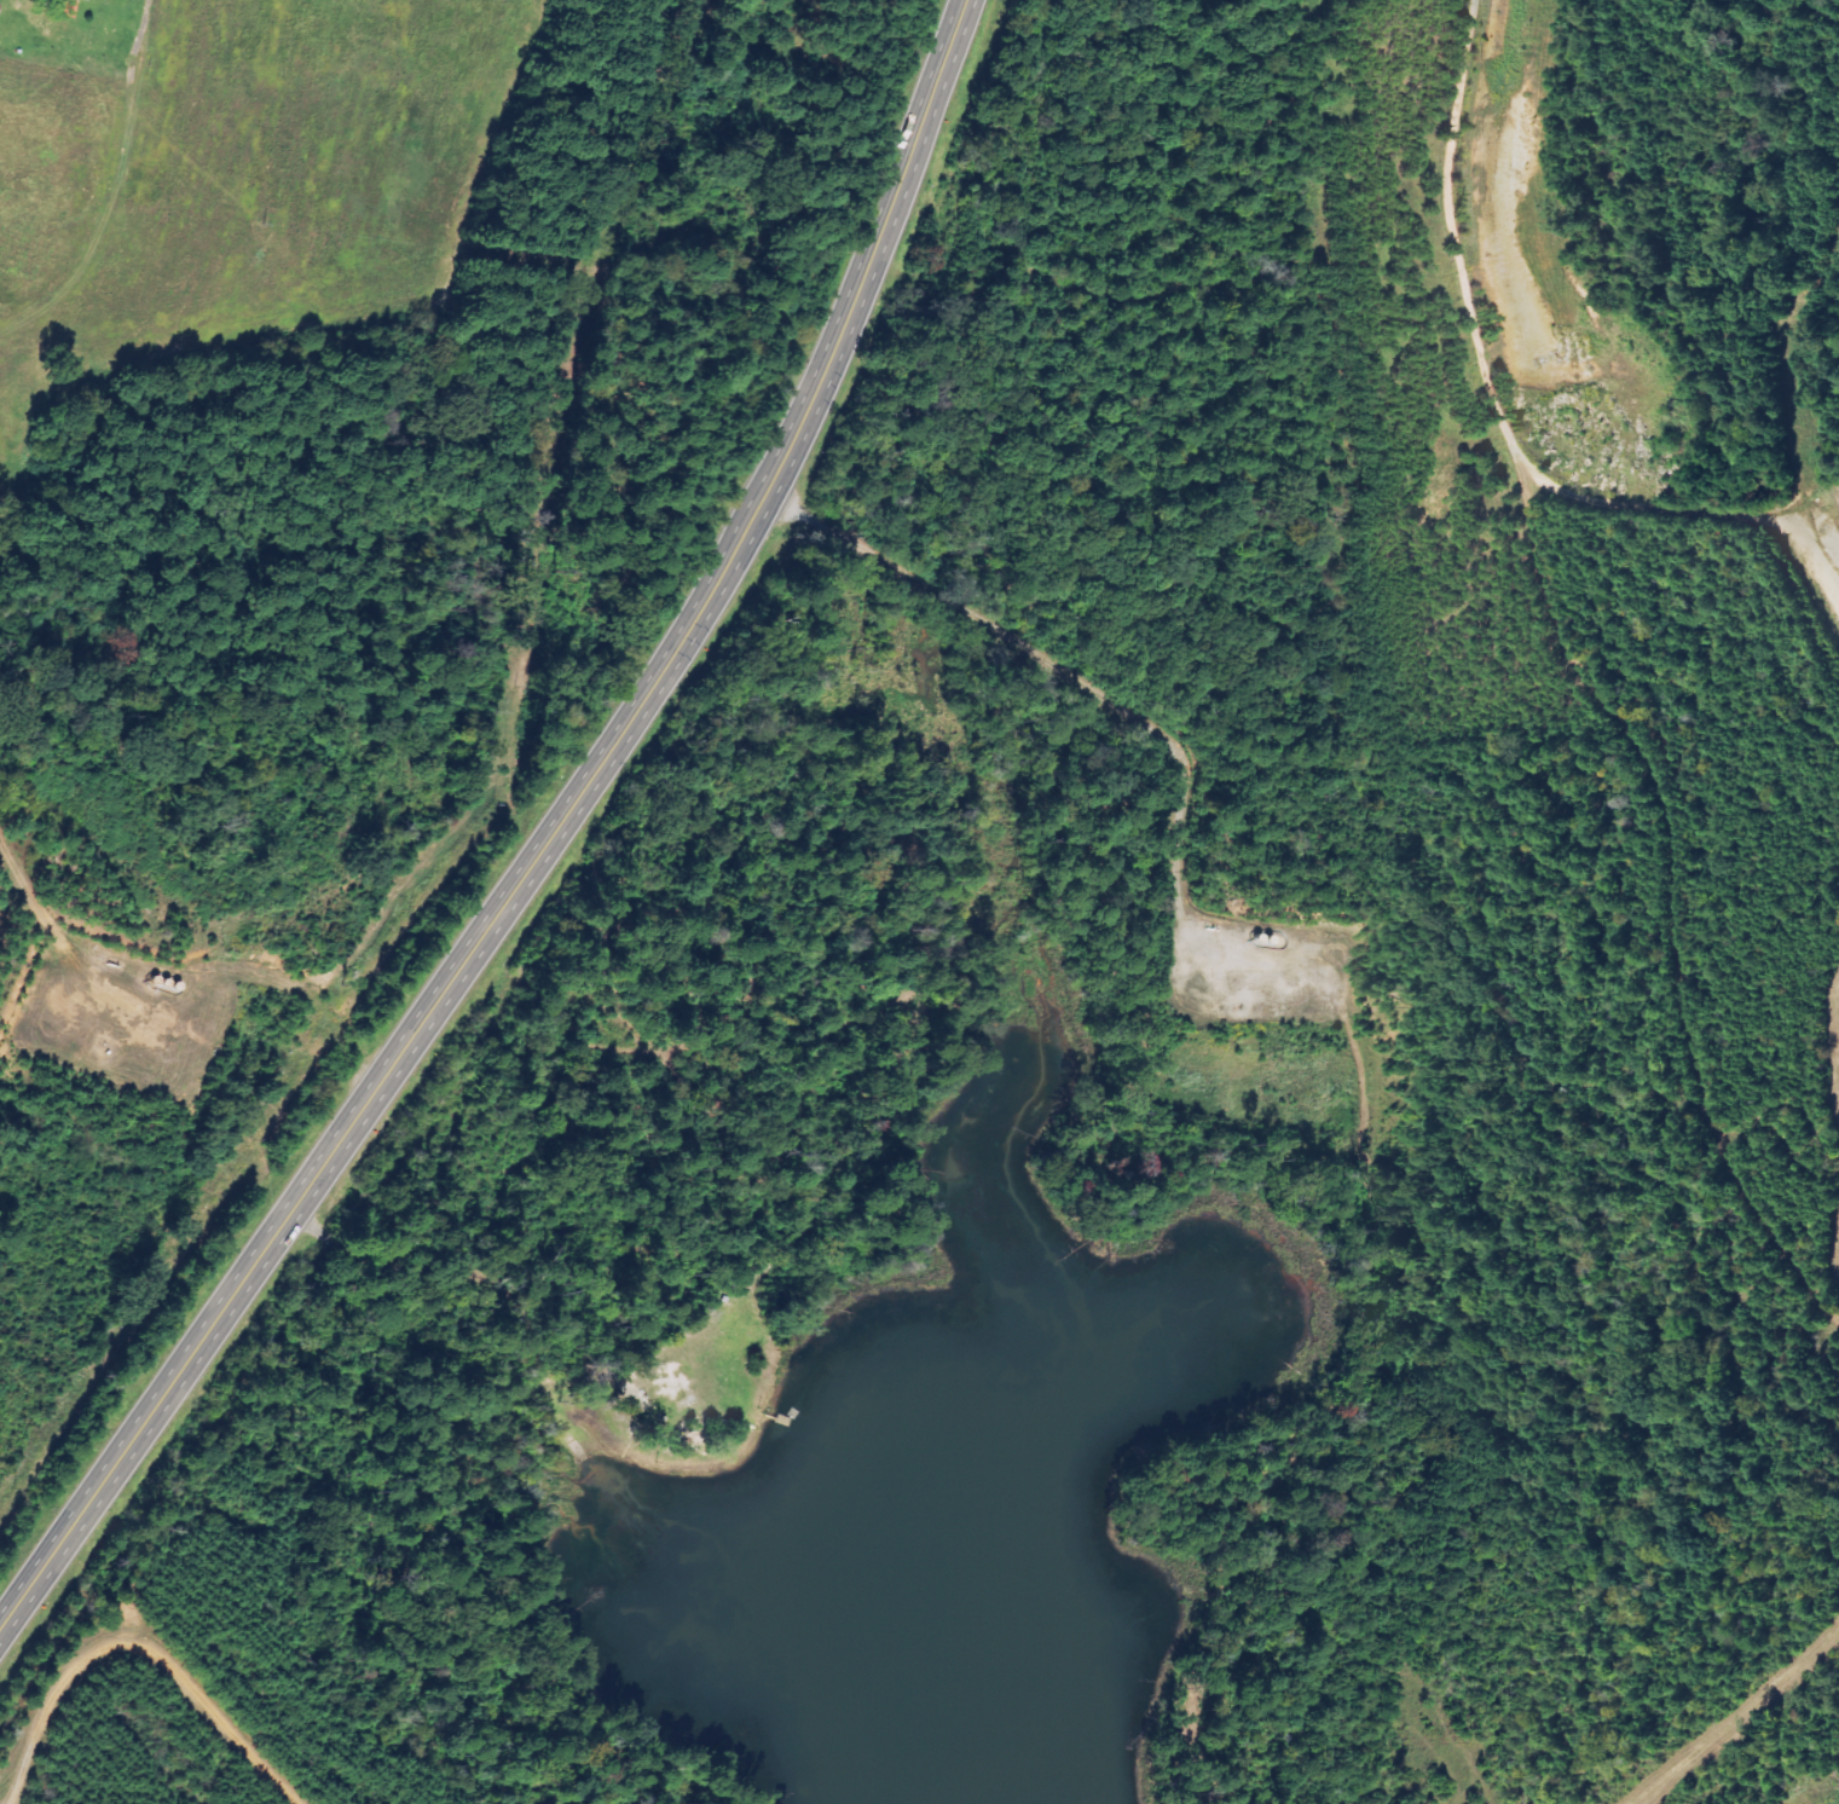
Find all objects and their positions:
building: (82, 0)
road: (543, 846)

